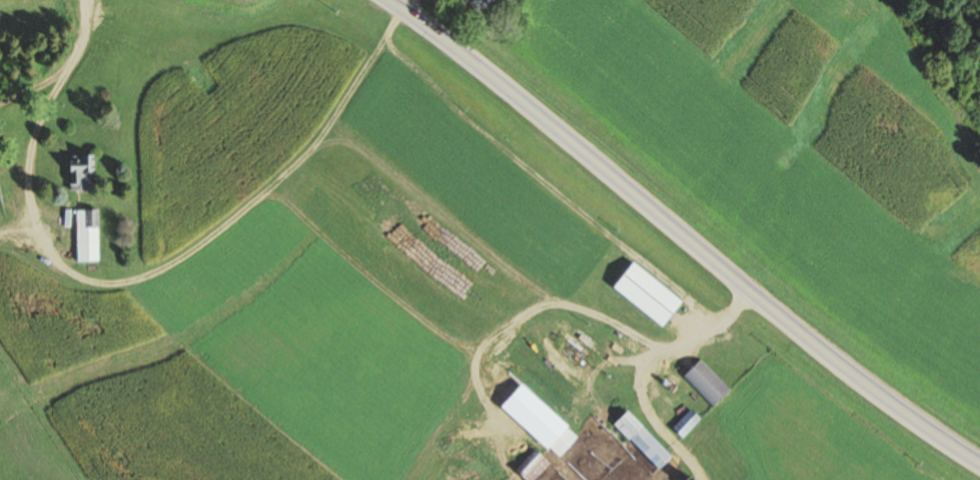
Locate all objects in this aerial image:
building: (475, 3)
road: (37, 106)
building: (79, 172)
building: (111, 203)
building: (86, 233)
road: (683, 234)
building: (645, 293)
road: (639, 364)
building: (705, 382)
building: (667, 384)
building: (538, 420)
building: (685, 423)
building: (641, 439)
building: (561, 441)
building: (531, 466)

